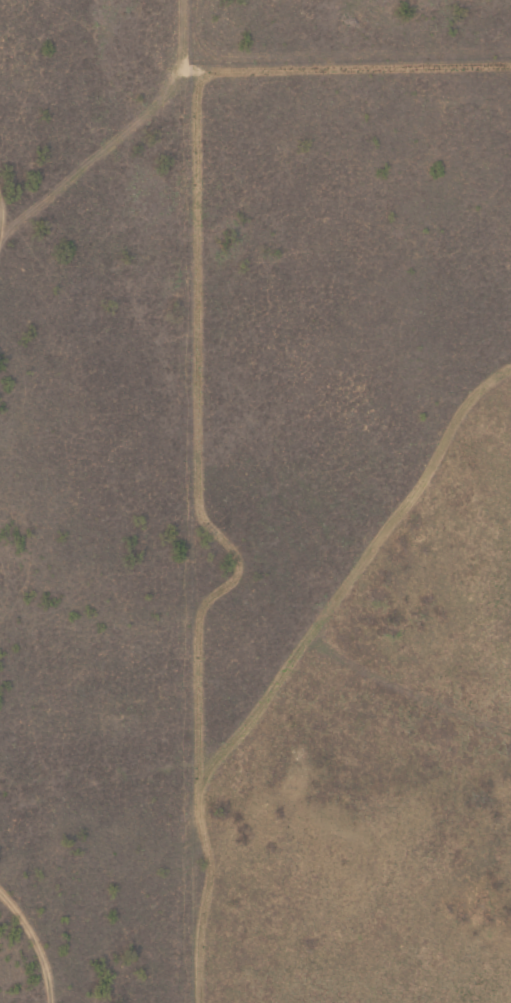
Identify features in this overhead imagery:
road: (17, 958)

